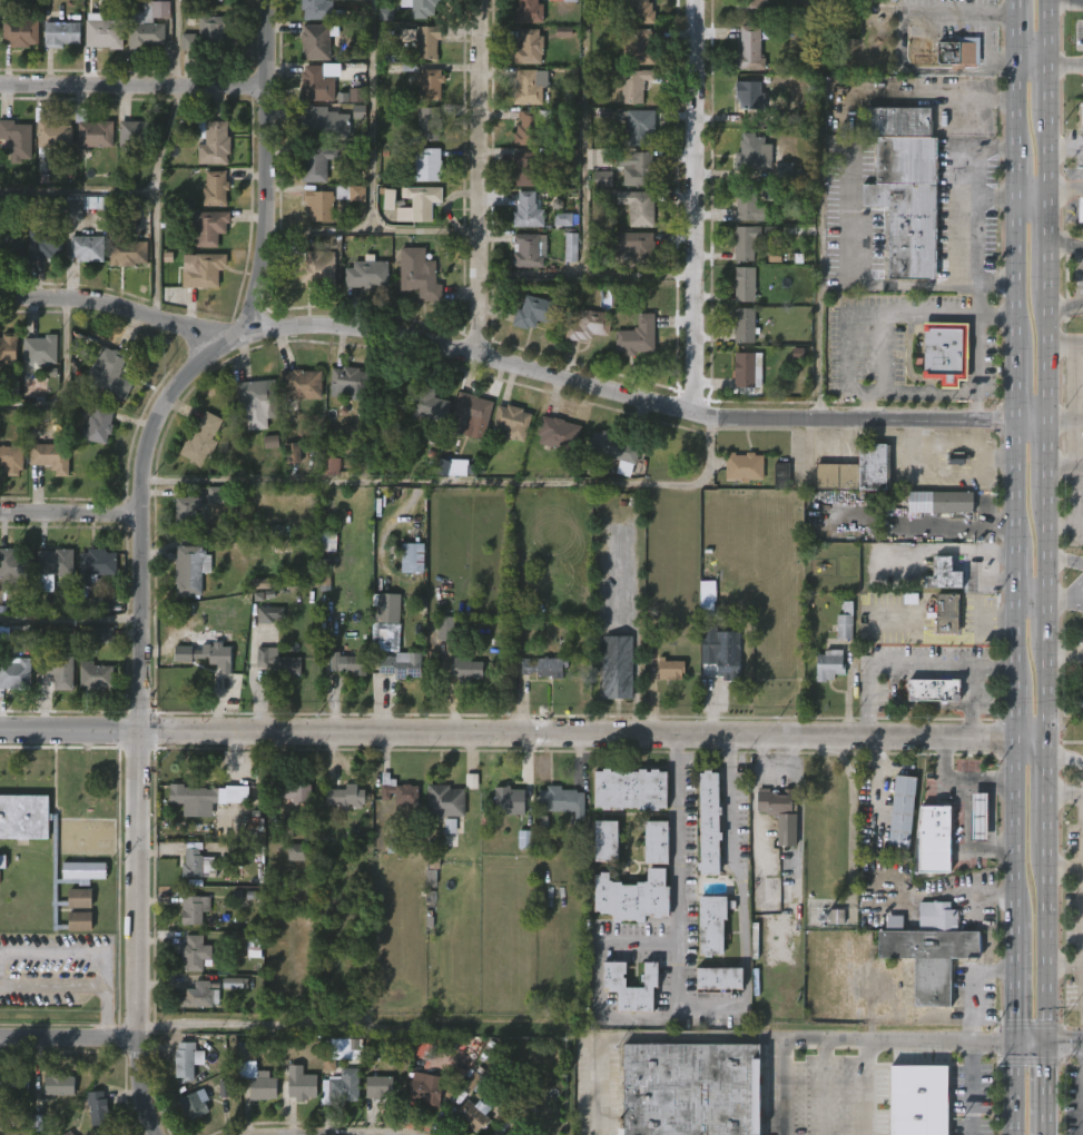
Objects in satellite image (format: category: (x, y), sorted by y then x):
building: (563, 0)
building: (807, 2)
building: (752, 6)
building: (425, 8)
building: (316, 9)
building: (528, 11)
building: (642, 11)
road: (964, 14)
building: (149, 24)
road: (1047, 30)
building: (18, 31)
building: (563, 31)
building: (58, 32)
building: (102, 32)
building: (209, 33)
building: (427, 41)
road: (176, 42)
building: (317, 42)
building: (528, 47)
building: (641, 47)
building: (750, 48)
building: (955, 52)
road: (994, 59)
road: (1065, 60)
road: (134, 83)
building: (318, 85)
building: (427, 85)
building: (634, 85)
road: (1047, 85)
building: (526, 86)
building: (750, 93)
building: (357, 95)
road: (372, 115)
building: (1082, 115)
building: (328, 124)
building: (431, 125)
building: (529, 125)
building: (834, 126)
building: (640, 127)
building: (1081, 127)
building: (90, 132)
building: (50, 135)
building: (137, 136)
building: (16, 137)
road: (163, 140)
building: (210, 141)
building: (836, 148)
road: (1065, 150)
road: (1047, 152)
building: (752, 154)
building: (570, 157)
building: (317, 162)
building: (430, 166)
building: (525, 167)
building: (637, 168)
building: (785, 169)
road: (480, 177)
road: (967, 177)
building: (603, 179)
building: (905, 187)
road: (1063, 188)
building: (214, 189)
building: (768, 193)
road: (134, 195)
building: (329, 199)
building: (390, 199)
building: (417, 203)
building: (746, 205)
building: (82, 206)
building: (638, 207)
road: (696, 207)
building: (528, 209)
building: (1079, 209)
building: (563, 219)
road: (968, 224)
building: (206, 226)
road: (372, 229)
building: (770, 230)
building: (745, 240)
building: (10, 244)
building: (42, 244)
building: (126, 244)
road: (1046, 244)
building: (87, 245)
building: (571, 247)
road: (1064, 247)
building: (528, 249)
building: (637, 249)
building: (775, 255)
building: (316, 268)
road: (854, 269)
building: (201, 272)
building: (365, 275)
building: (417, 276)
building: (744, 284)
road: (1064, 304)
building: (535, 312)
road: (867, 313)
building: (588, 326)
building: (744, 326)
building: (639, 335)
road: (1064, 340)
building: (7, 347)
building: (39, 349)
road: (882, 351)
building: (942, 352)
road: (1046, 354)
road: (521, 365)
building: (744, 369)
building: (111, 373)
building: (348, 382)
building: (299, 384)
building: (10, 388)
road: (973, 389)
building: (396, 394)
building: (258, 395)
building: (427, 404)
building: (469, 412)
road: (1064, 418)
building: (512, 421)
building: (98, 425)
building: (557, 434)
building: (200, 440)
building: (270, 442)
building: (616, 446)
building: (293, 453)
building: (52, 456)
road: (1014, 456)
road: (1046, 456)
building: (10, 458)
building: (328, 462)
building: (742, 466)
road: (1064, 466)
building: (452, 467)
building: (855, 471)
building: (781, 475)
road: (1076, 476)
building: (217, 495)
road: (1072, 501)
building: (941, 502)
building: (185, 510)
road: (71, 513)
road: (1064, 523)
building: (328, 542)
road: (1045, 546)
road: (142, 547)
building: (415, 557)
road: (1064, 560)
building: (57, 561)
building: (97, 563)
building: (13, 564)
building: (193, 569)
building: (943, 574)
building: (260, 583)
road: (1075, 586)
road: (1057, 599)
road: (1030, 600)
road: (1076, 602)
building: (102, 604)
building: (387, 604)
building: (945, 613)
building: (269, 614)
road: (70, 619)
road: (1044, 619)
building: (847, 621)
building: (446, 628)
building: (104, 635)
building: (213, 650)
building: (280, 662)
building: (353, 662)
building: (721, 663)
building: (398, 665)
building: (829, 665)
road: (922, 665)
building: (544, 667)
building: (616, 667)
building: (464, 668)
road: (994, 668)
building: (670, 669)
building: (59, 670)
building: (14, 672)
building: (97, 675)
building: (933, 688)
road: (1044, 694)
road: (522, 733)
road: (1063, 758)
road: (776, 768)
road: (956, 784)
building: (630, 790)
building: (397, 791)
building: (289, 793)
building: (344, 794)
road: (1063, 796)
road: (1044, 797)
building: (195, 798)
building: (444, 801)
building: (508, 801)
building: (560, 801)
building: (775, 801)
building: (902, 811)
road: (799, 815)
road: (965, 816)
building: (977, 817)
road: (991, 817)
building: (708, 821)
building: (450, 826)
building: (787, 830)
building: (525, 839)
building: (934, 839)
building: (604, 842)
building: (656, 842)
road: (990, 850)
building: (52, 851)
building: (301, 852)
building: (2, 861)
building: (191, 862)
road: (741, 891)
building: (631, 898)
road: (676, 902)
building: (193, 909)
building: (710, 924)
road: (1044, 941)
road: (1082, 944)
building: (929, 948)
road: (67, 950)
building: (190, 951)
road: (1064, 965)
building: (718, 977)
road: (1014, 977)
building: (235, 983)
building: (612, 983)
road: (597, 984)
road: (52, 987)
building: (199, 995)
road: (106, 1013)
road: (968, 1033)
road: (639, 1035)
road: (68, 1038)
road: (848, 1039)
traffic signals: (1046, 1039)
road: (1048, 1039)
traffic signals: (1015, 1040)
building: (345, 1048)
building: (185, 1059)
building: (327, 1063)
building: (475, 1082)
building: (12, 1083)
building: (263, 1086)
building: (299, 1086)
building: (344, 1086)
building: (376, 1087)
road: (820, 1087)
road: (863, 1087)
road: (1014, 1087)
road: (1046, 1087)
building: (429, 1088)
building: (224, 1089)
building: (685, 1089)
building: (50, 1094)
building: (916, 1099)
building: (191, 1105)
building: (97, 1108)
building: (473, 1116)
building: (111, 1134)

